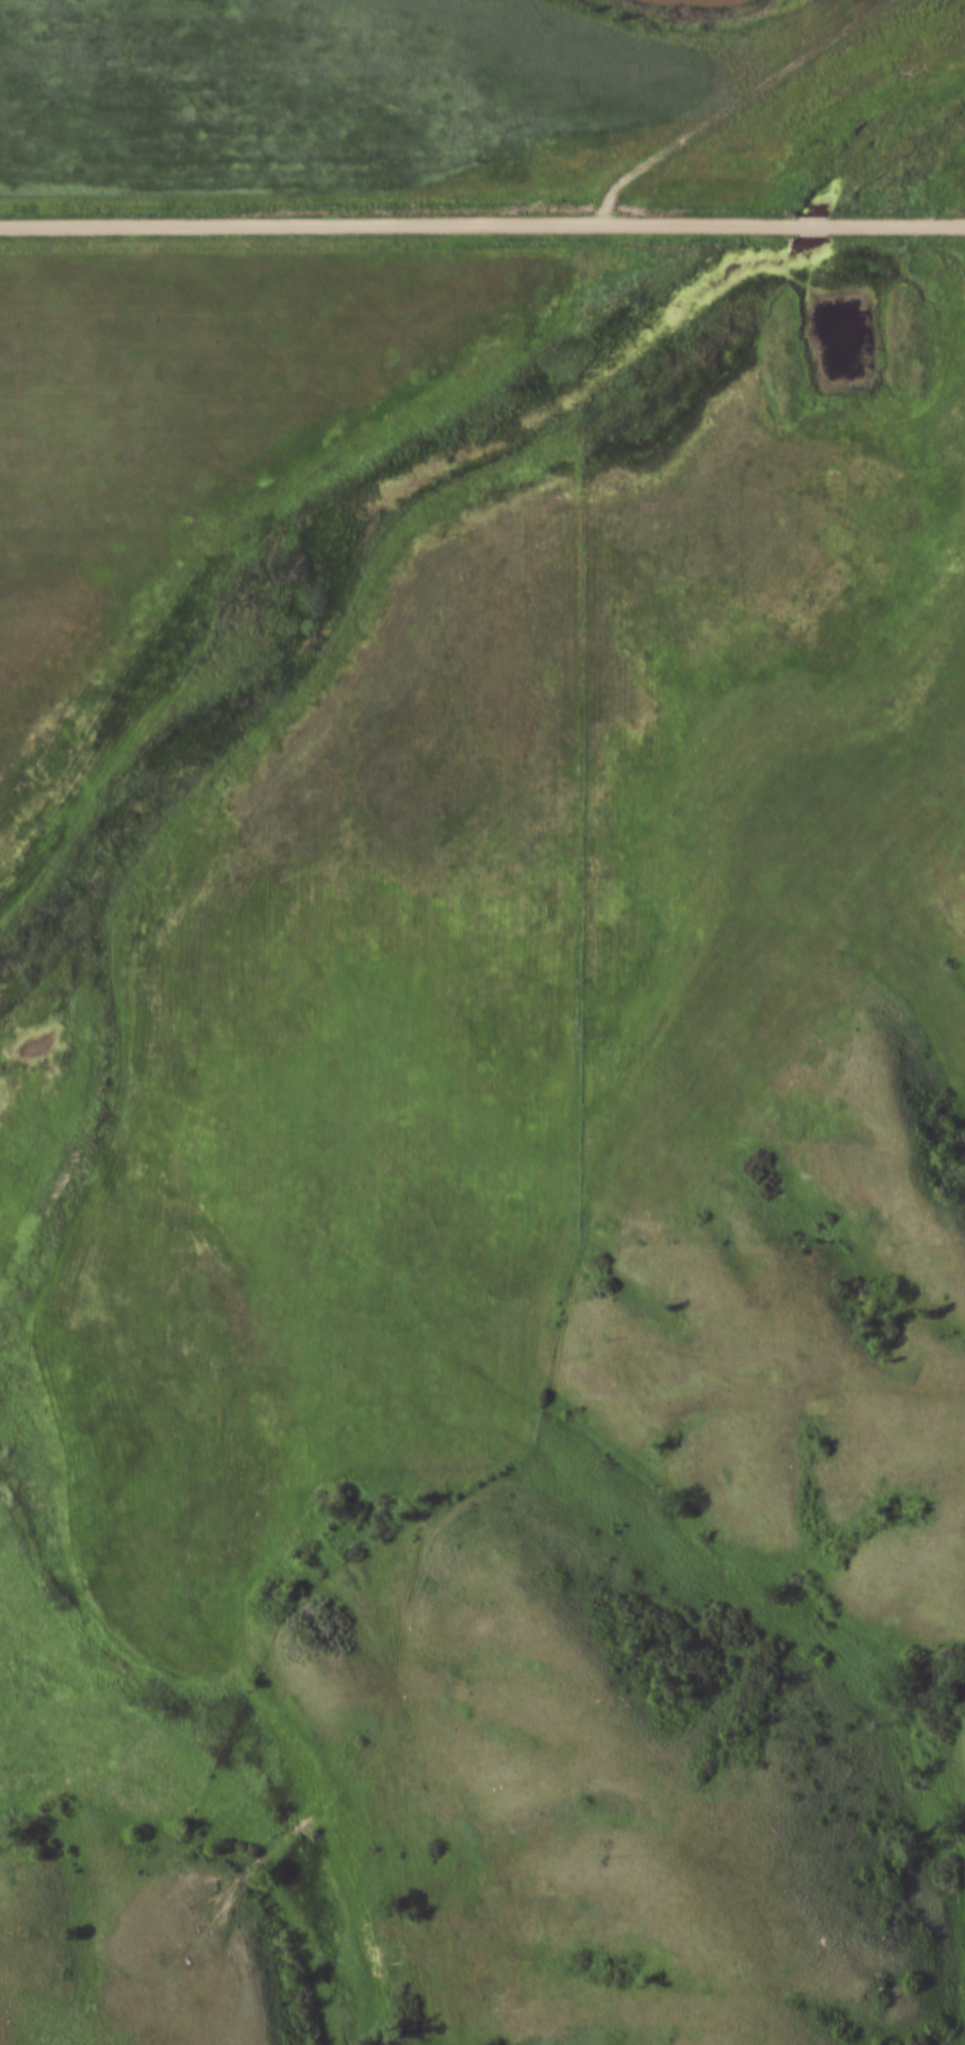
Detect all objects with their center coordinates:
road: (674, 142)
road: (482, 223)

